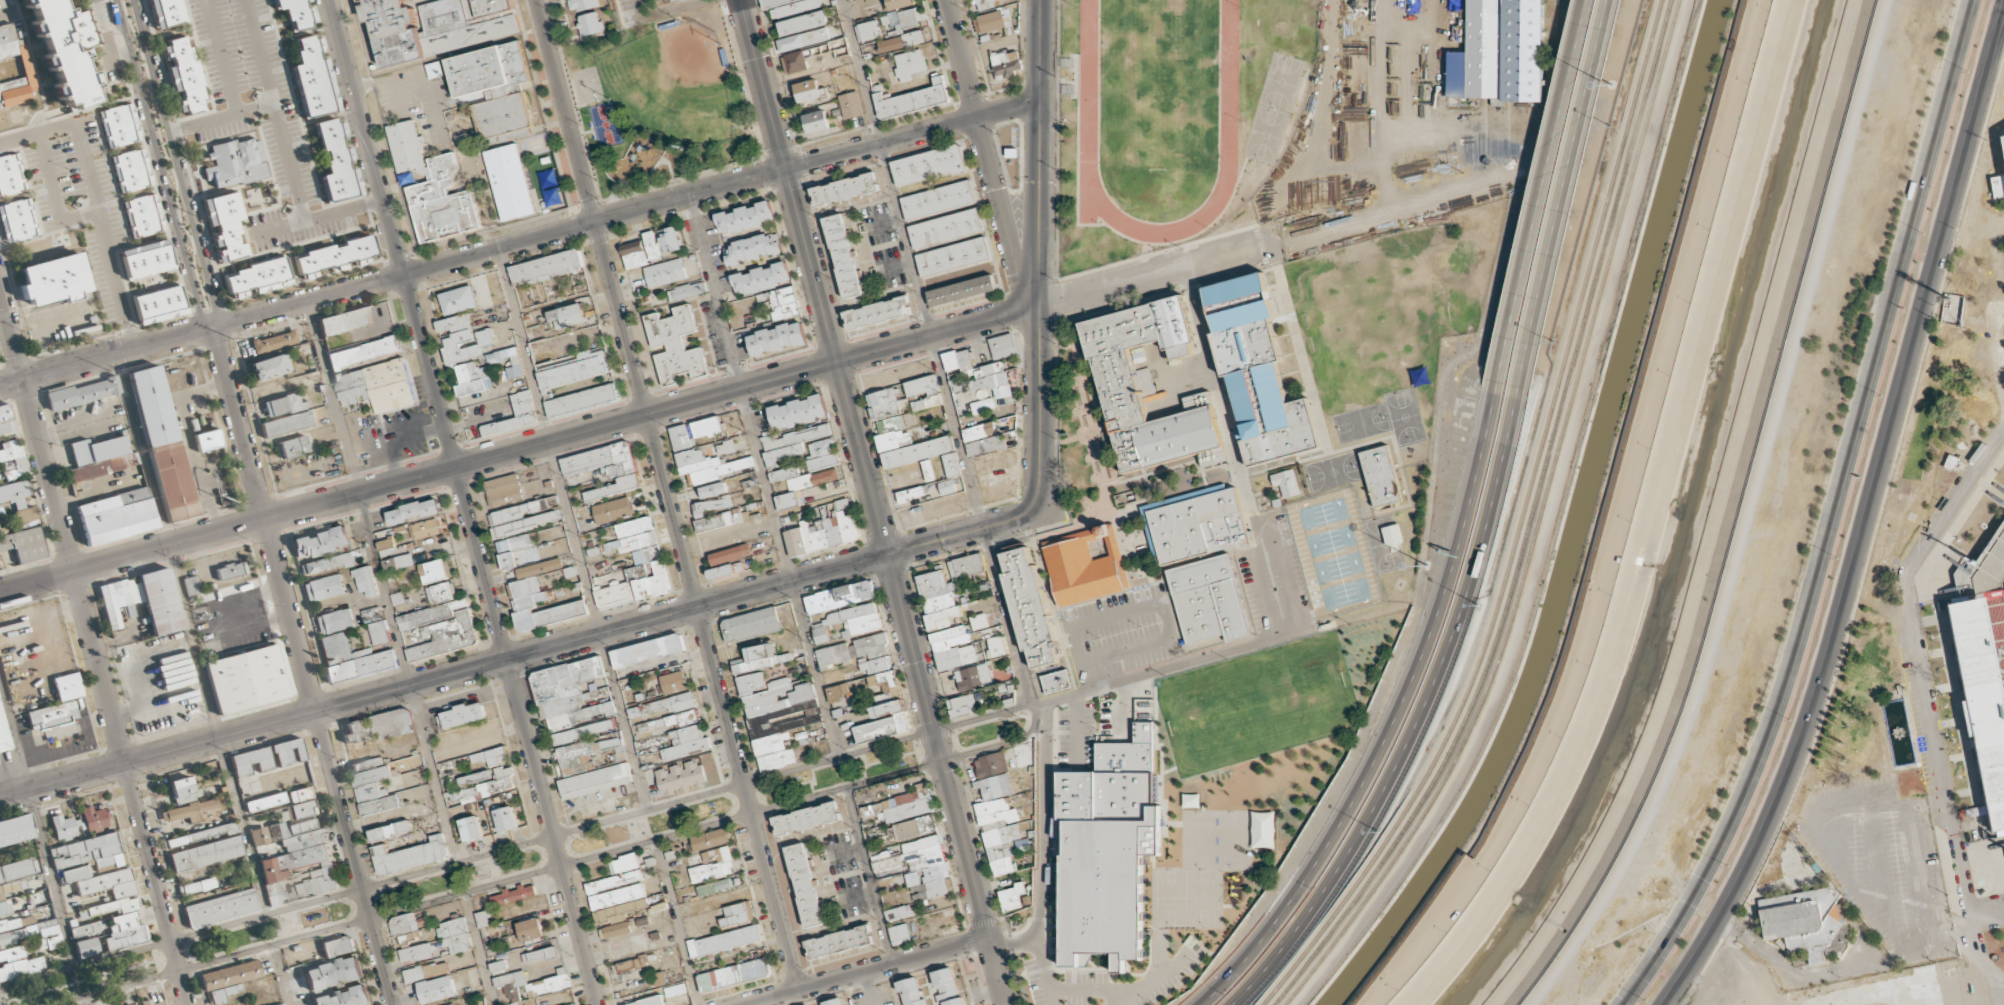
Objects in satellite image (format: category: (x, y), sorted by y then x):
building: (582, 4)
building: (983, 4)
building: (789, 6)
road: (672, 8)
building: (166, 12)
building: (295, 13)
building: (1477, 18)
building: (902, 19)
building: (991, 21)
building: (804, 22)
building: (590, 23)
building: (437, 25)
building: (867, 31)
building: (803, 39)
road: (1578, 40)
building: (902, 41)
road: (1602, 41)
building: (65, 49)
building: (909, 64)
building: (13, 68)
building: (435, 70)
building: (182, 74)
building: (312, 78)
park: (1157, 83)
building: (494, 89)
building: (807, 90)
building: (910, 98)
park: (661, 102)
parking lot: (419, 103)
building: (849, 104)
park: (1273, 107)
parking lot: (261, 118)
building: (816, 120)
building: (119, 125)
road: (986, 154)
building: (235, 161)
building: (335, 162)
road: (176, 163)
building: (928, 164)
road: (160, 165)
building: (130, 170)
building: (10, 174)
building: (510, 182)
building: (433, 187)
building: (844, 189)
building: (938, 199)
parking lot: (82, 211)
road: (624, 211)
building: (141, 215)
building: (744, 216)
building: (17, 220)
building: (224, 225)
building: (944, 228)
road: (1532, 237)
road: (1555, 239)
building: (670, 240)
building: (652, 246)
building: (752, 248)
road: (1245, 249)
building: (332, 253)
road: (1039, 253)
building: (635, 254)
building: (843, 255)
building: (952, 255)
building: (145, 258)
road: (910, 263)
building: (546, 267)
building: (665, 272)
building: (255, 276)
building: (761, 277)
road: (813, 277)
building: (53, 279)
building: (962, 289)
building: (687, 290)
building: (458, 300)
building: (783, 303)
building: (157, 304)
building: (877, 312)
road: (8, 313)
building: (567, 316)
building: (344, 321)
building: (777, 337)
building: (463, 338)
building: (274, 341)
building: (675, 344)
building: (1002, 345)
building: (365, 352)
road: (105, 358)
building: (508, 360)
building: (268, 367)
building: (575, 368)
building: (978, 372)
building: (1258, 372)
building: (386, 373)
building: (473, 379)
building: (1147, 385)
building: (81, 392)
building: (923, 392)
building: (392, 396)
building: (580, 400)
building: (522, 404)
building: (982, 405)
building: (276, 407)
building: (798, 412)
building: (5, 418)
building: (289, 423)
parking lot: (406, 430)
building: (693, 432)
building: (795, 436)
building: (983, 439)
building: (207, 440)
building: (161, 442)
building: (293, 446)
road: (519, 447)
building: (726, 447)
building: (782, 453)
building: (822, 454)
building: (13, 455)
building: (98, 458)
building: (951, 464)
building: (710, 465)
building: (606, 468)
building: (928, 470)
building: (783, 473)
road: (762, 475)
building: (812, 479)
building: (1286, 483)
building: (947, 486)
building: (504, 489)
building: (712, 490)
road: (666, 493)
building: (913, 493)
road: (1996, 493)
building: (789, 499)
building: (18, 501)
road: (462, 502)
building: (710, 506)
building: (614, 510)
building: (414, 511)
building: (517, 512)
road: (1862, 515)
building: (115, 516)
road: (1830, 516)
road: (1748, 519)
building: (719, 520)
building: (1195, 524)
river: (1689, 525)
building: (635, 526)
building: (830, 526)
railway: (1539, 526)
railway: (1529, 527)
building: (425, 528)
road: (571, 528)
road: (963, 532)
building: (795, 542)
building: (320, 543)
building: (513, 543)
building: (634, 543)
building: (24, 544)
building: (385, 544)
building: (730, 554)
building: (507, 559)
road: (1963, 559)
building: (399, 562)
building: (327, 563)
building: (1087, 565)
building: (540, 568)
building: (435, 570)
building: (726, 570)
building: (230, 571)
road: (382, 580)
building: (367, 581)
building: (967, 581)
building: (192, 585)
building: (635, 586)
building: (325, 587)
building: (946, 590)
road: (1953, 592)
building: (840, 596)
building: (1208, 599)
building: (160, 601)
building: (1030, 606)
building: (571, 607)
road: (1006, 615)
building: (333, 621)
building: (850, 621)
building: (979, 621)
building: (751, 624)
building: (380, 633)
road: (190, 635)
building: (997, 646)
road: (91, 648)
building: (953, 648)
building: (648, 650)
building: (761, 658)
building: (352, 659)
building: (875, 665)
road: (301, 666)
road: (1944, 670)
road: (1920, 672)
stadium: (1986, 673)
road: (444, 674)
building: (973, 677)
building: (245, 679)
building: (1056, 681)
building: (674, 682)
building: (569, 692)
building: (57, 704)
building: (962, 705)
building: (1144, 705)
building: (661, 706)
building: (877, 706)
building: (1983, 707)
building: (811, 715)
building: (461, 716)
building: (674, 720)
building: (759, 721)
road: (1419, 721)
road: (1393, 723)
building: (379, 727)
building: (585, 731)
building: (4, 735)
fountain: (1901, 736)
building: (687, 742)
building: (287, 752)
building: (491, 756)
building: (590, 756)
building: (251, 761)
building: (991, 764)
building: (681, 777)
road: (946, 779)
building: (595, 781)
building: (499, 782)
building: (373, 786)
building: (994, 786)
building: (181, 790)
building: (469, 794)
building: (265, 802)
building: (298, 805)
building: (909, 810)
building: (187, 811)
building: (807, 818)
building: (93, 819)
building: (506, 819)
road: (1879, 821)
road: (36, 826)
building: (915, 827)
building: (63, 828)
building: (471, 828)
building: (14, 829)
building: (390, 831)
building: (999, 834)
building: (259, 836)
building: (710, 839)
road: (1990, 842)
road: (516, 845)
building: (1107, 846)
road: (1816, 846)
road: (1845, 848)
building: (1984, 849)
building: (89, 852)
parking lot: (839, 852)
building: (206, 854)
building: (410, 855)
building: (298, 859)
parking lot: (1882, 863)
building: (624, 864)
building: (713, 865)
road: (554, 866)
building: (926, 867)
building: (14, 869)
road: (1884, 872)
road: (868, 873)
building: (73, 874)
building: (614, 881)
road: (1925, 883)
building: (805, 885)
building: (196, 886)
building: (714, 887)
building: (514, 894)
building: (617, 896)
parking lot: (851, 896)
building: (1011, 897)
building: (3, 903)
building: (115, 908)
building: (220, 908)
building: (617, 912)
building: (898, 912)
building: (737, 915)
building: (1791, 919)
building: (16, 922)
road: (675, 922)
building: (403, 924)
building: (86, 929)
building: (531, 929)
building: (615, 930)
building: (899, 934)
building: (455, 935)
building: (11, 936)
building: (725, 940)
building: (839, 941)
building: (338, 947)
building: (86, 948)
road: (477, 948)
road: (1977, 952)
building: (11, 953)
building: (414, 953)
building: (539, 955)
building: (632, 964)
road: (1718, 967)
road: (1731, 967)
building: (21, 968)
road: (862, 968)
building: (426, 971)
building: (332, 973)
road: (280, 974)
building: (734, 974)
road: (1826, 975)
building: (510, 979)
building: (227, 980)
building: (551, 984)
building: (946, 988)
building: (438, 989)
building: (911, 992)
road: (1874, 992)
road: (1765, 994)
building: (344, 998)
road: (83, 1000)
building: (835, 1001)
road: (1974, 1001)
building: (150, 1002)
building: (645, 1002)
building: (282, 1004)

